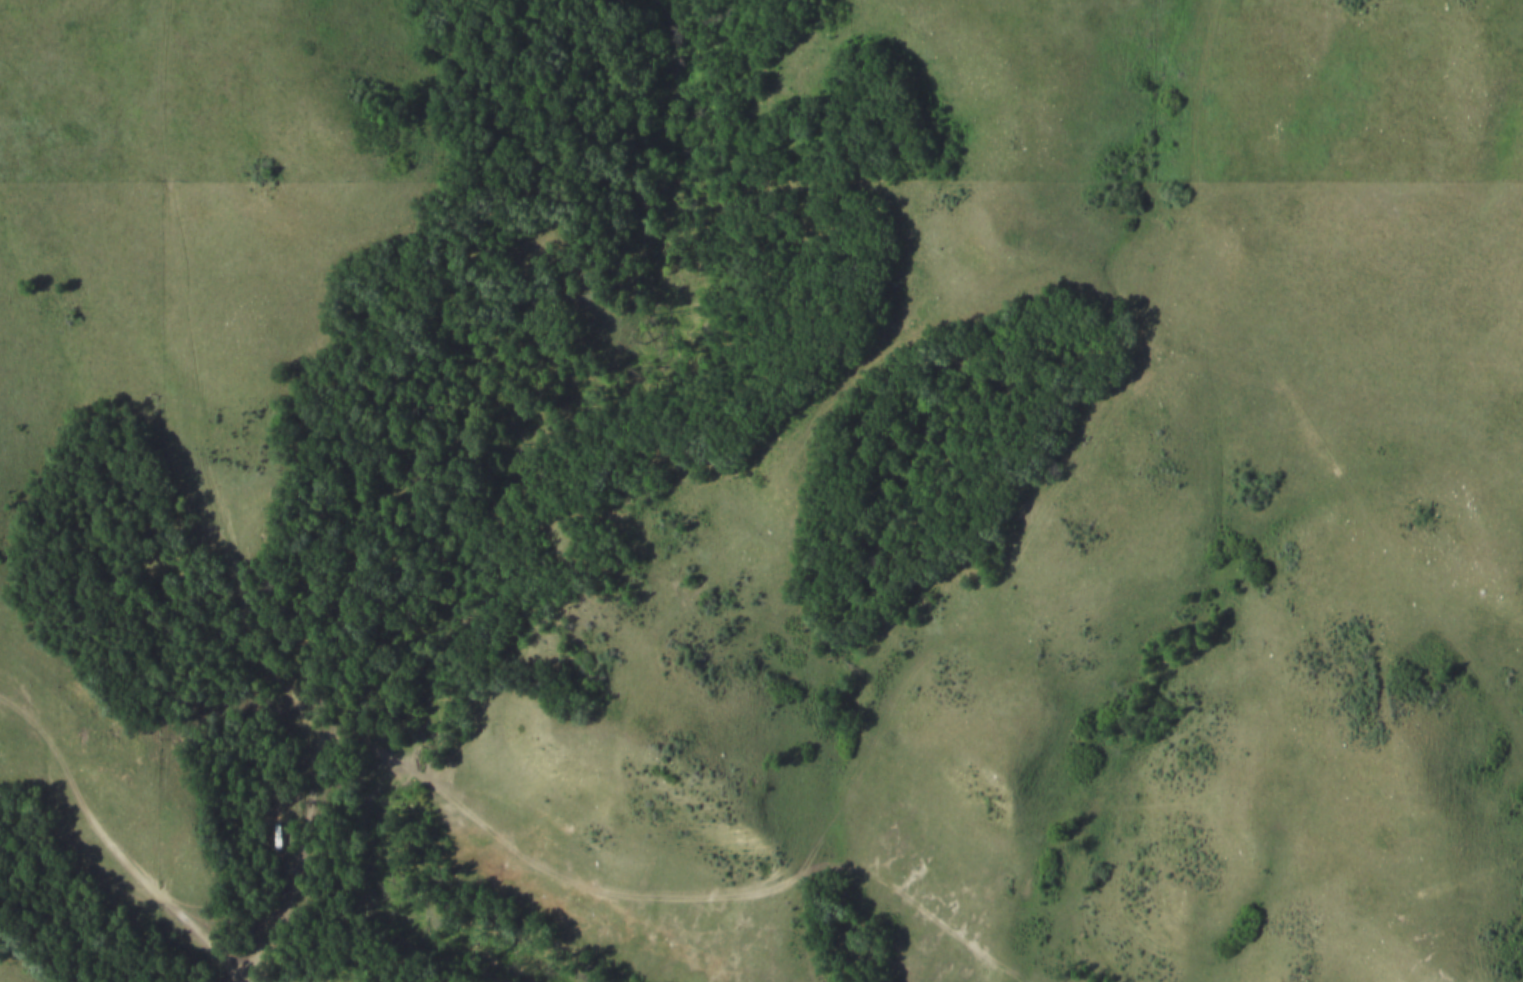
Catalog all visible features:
road: (1206, 107)
road: (558, 876)

